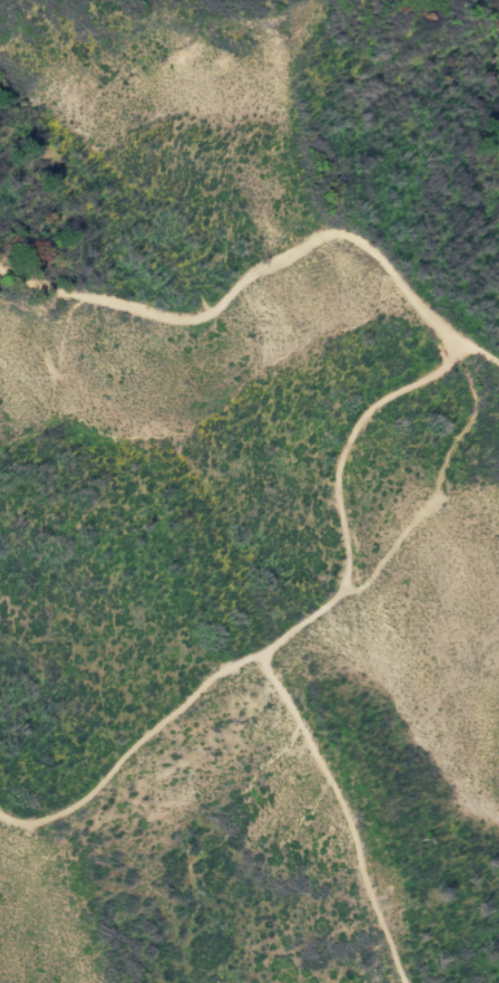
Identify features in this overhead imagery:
road: (403, 534)

